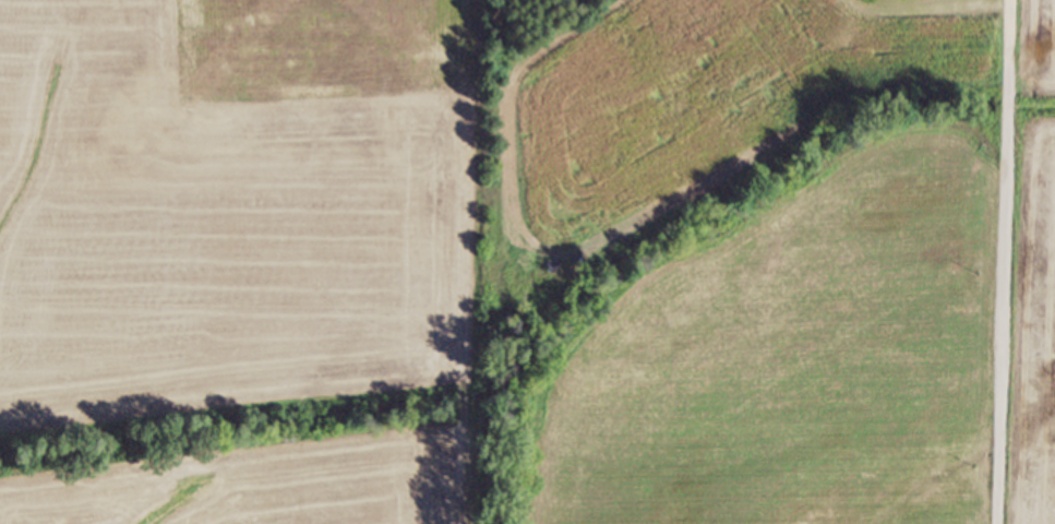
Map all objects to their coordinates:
road: (1009, 262)

